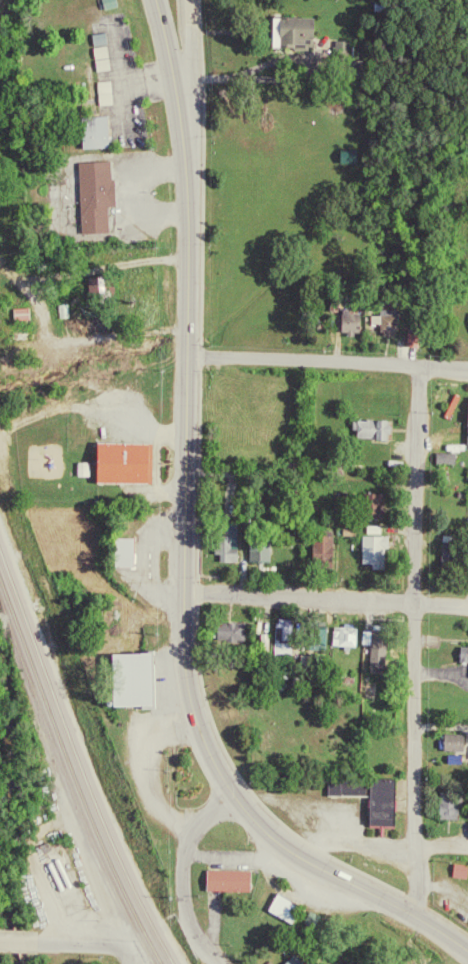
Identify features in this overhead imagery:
building: (288, 27)
road: (168, 46)
road: (189, 46)
building: (101, 54)
building: (347, 63)
building: (105, 95)
building: (92, 131)
building: (92, 195)
building: (109, 288)
building: (22, 316)
building: (347, 319)
building: (385, 326)
building: (412, 342)
road: (327, 359)
building: (466, 422)
building: (370, 426)
building: (120, 460)
building: (444, 460)
building: (371, 503)
building: (446, 548)
building: (371, 549)
building: (121, 550)
building: (324, 551)
building: (225, 552)
building: (258, 553)
road: (183, 591)
road: (325, 597)
building: (232, 634)
building: (284, 639)
building: (345, 639)
road: (414, 641)
building: (378, 648)
building: (462, 653)
building: (129, 676)
road: (441, 726)
building: (451, 740)
railway: (73, 779)
building: (365, 794)
building: (447, 804)
road: (442, 846)
road: (182, 860)
building: (460, 873)
building: (226, 876)
building: (282, 905)
road: (99, 944)
road: (208, 952)
road: (133, 955)
building: (290, 960)

